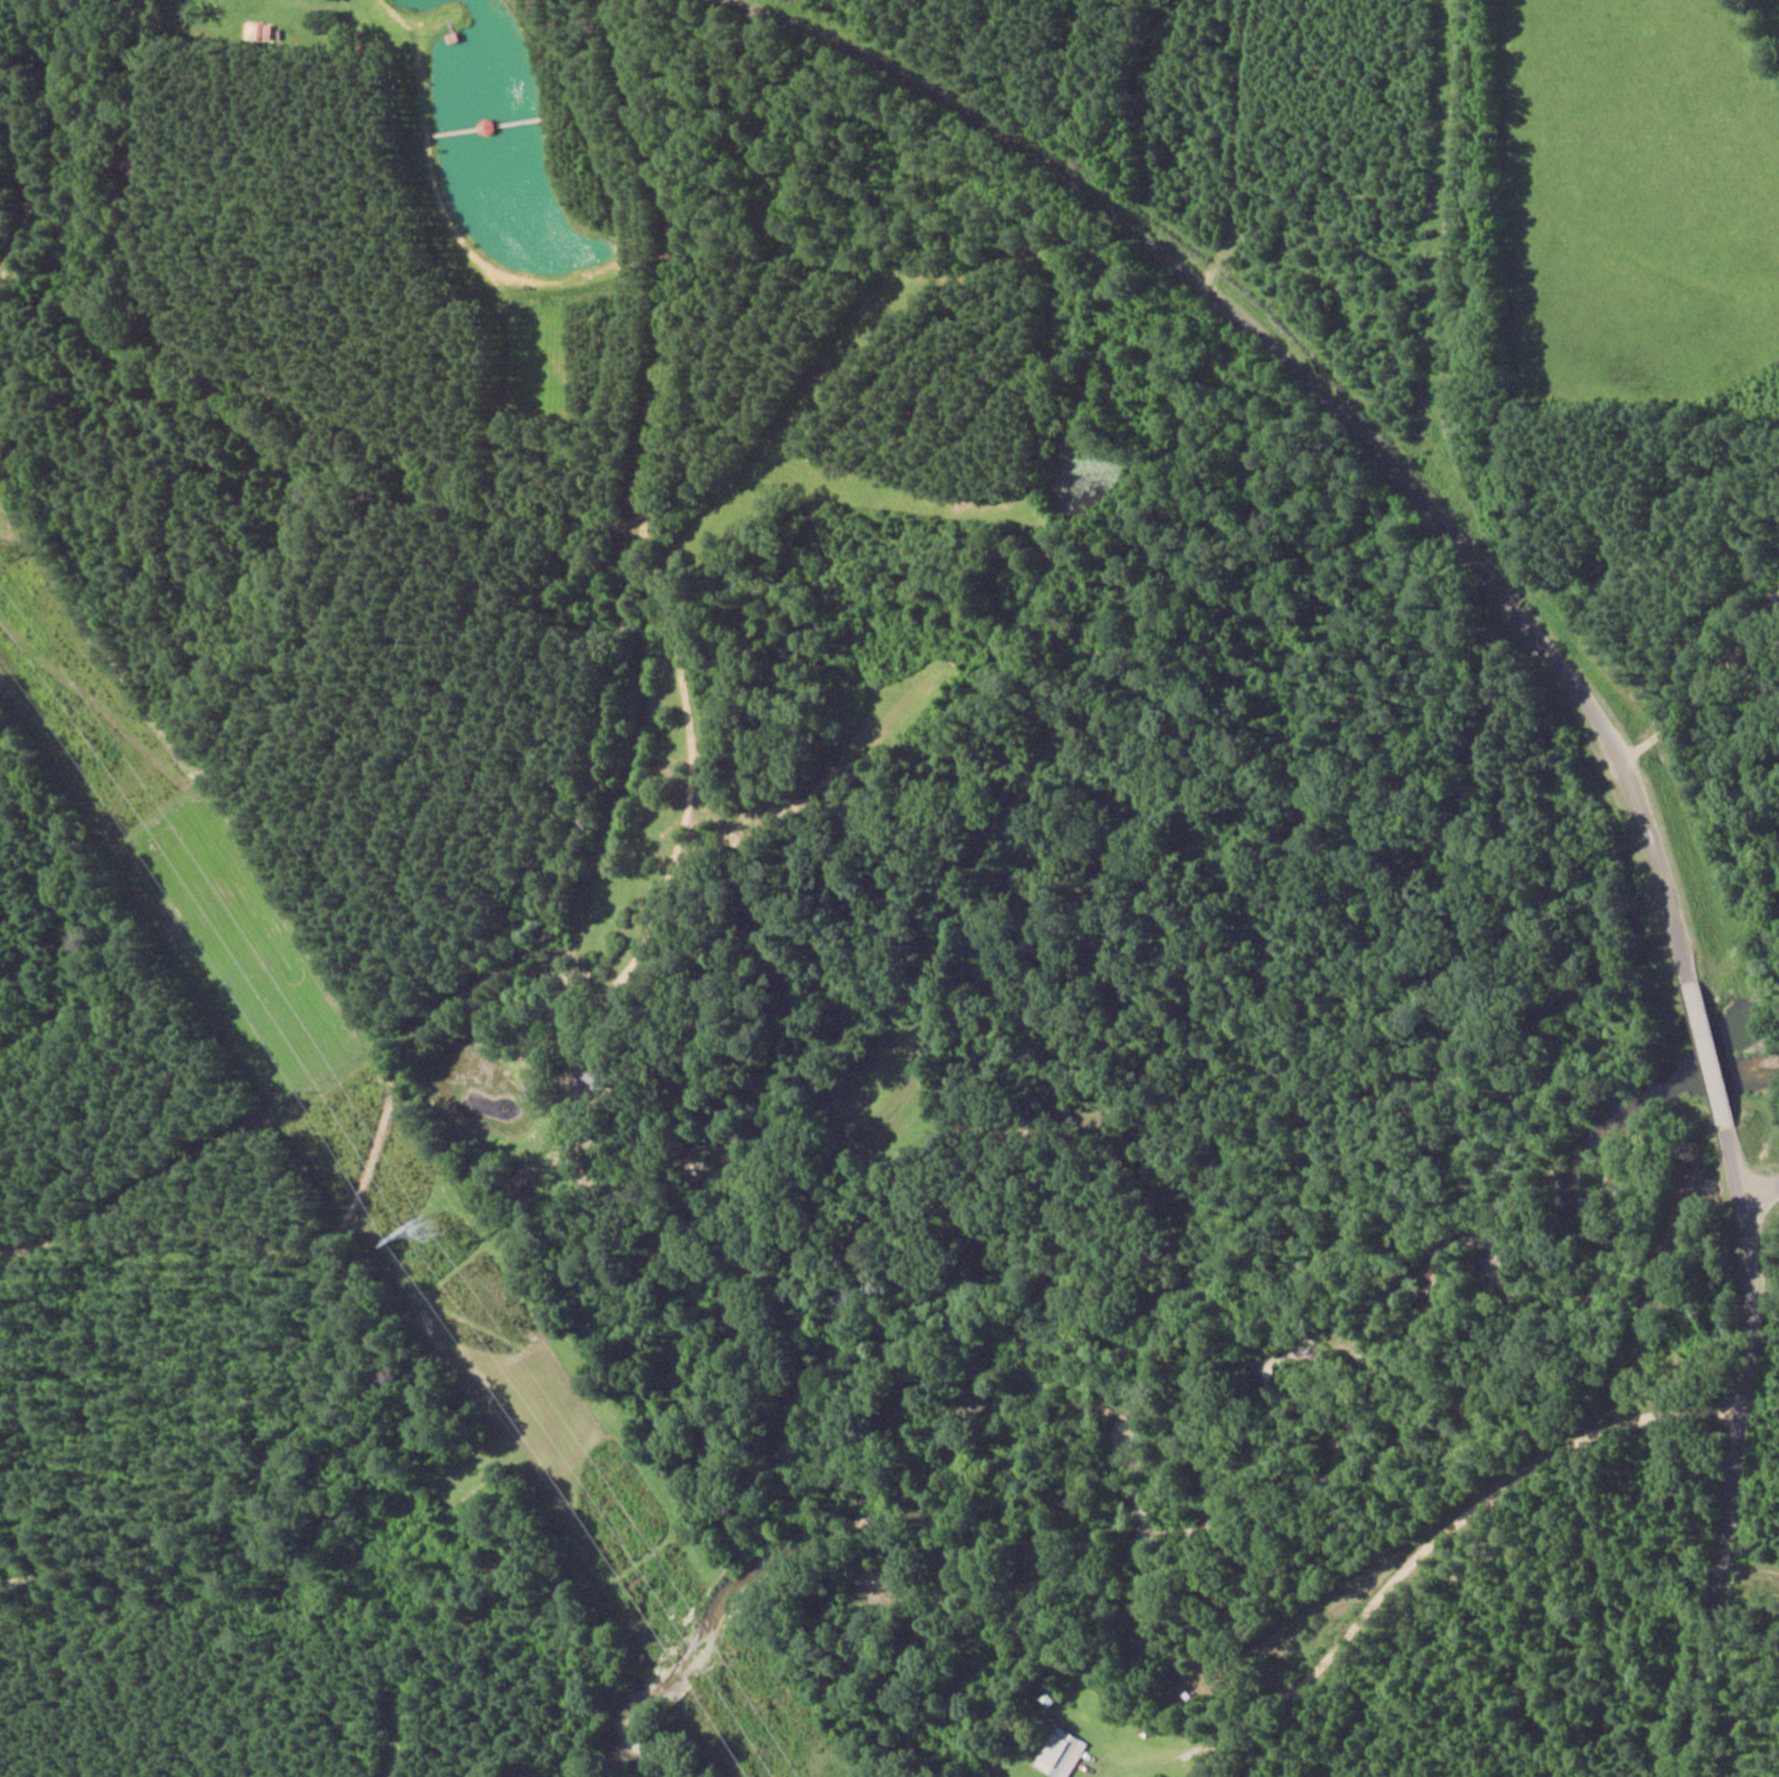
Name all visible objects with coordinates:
road: (1600, 621)
road: (1513, 687)
power tower: (422, 1227)
road: (1755, 1227)
building: (1060, 1754)

